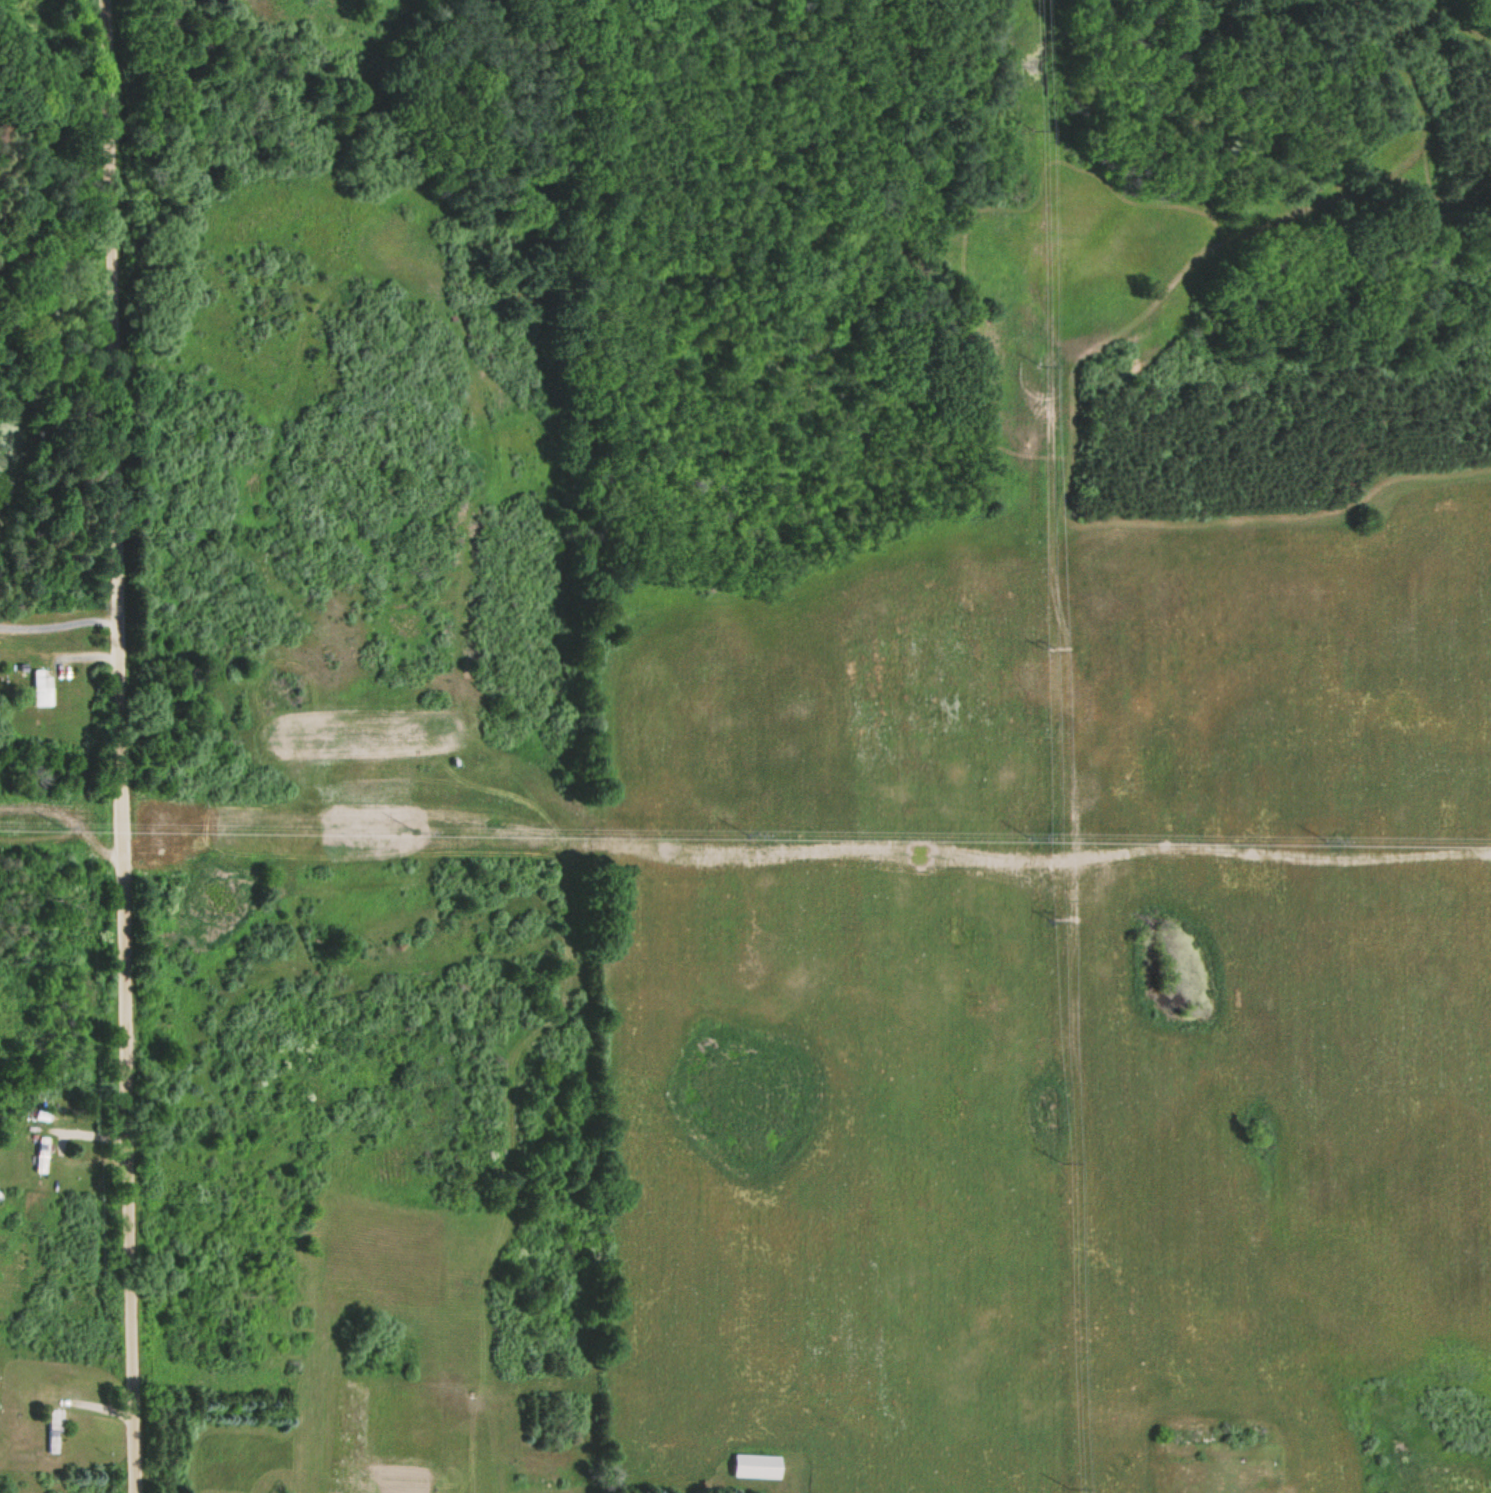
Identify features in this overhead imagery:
power tower: (1046, 640)
building: (41, 686)
road: (124, 746)
power tower: (1050, 912)
building: (40, 1154)
building: (52, 1430)
building: (754, 1466)

